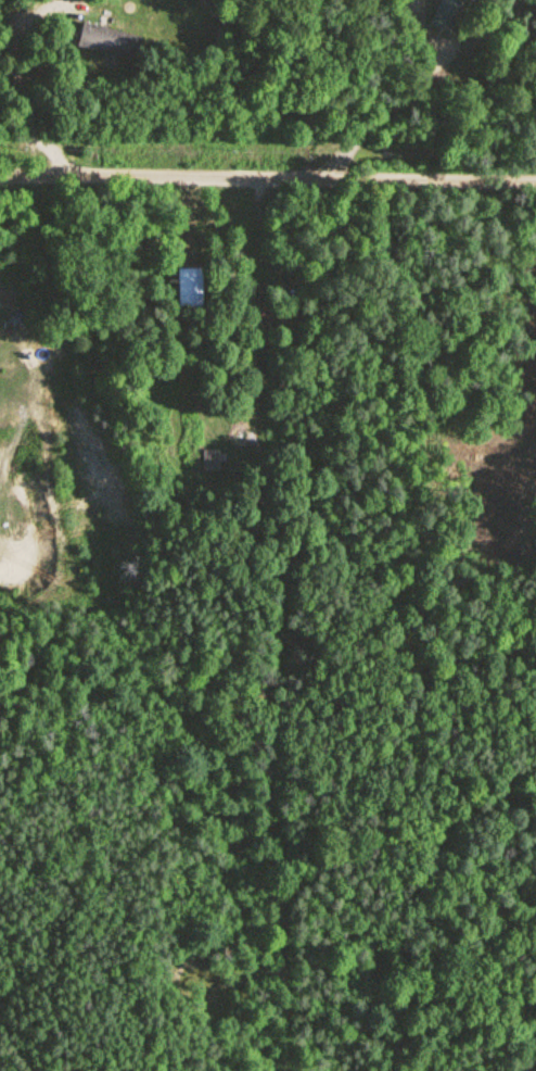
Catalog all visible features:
road: (44, 12)
building: (446, 13)
building: (110, 40)
road: (48, 62)
road: (25, 106)
road: (395, 113)
road: (267, 174)
road: (190, 218)
road: (261, 225)
building: (189, 286)
building: (264, 303)
road: (15, 438)

